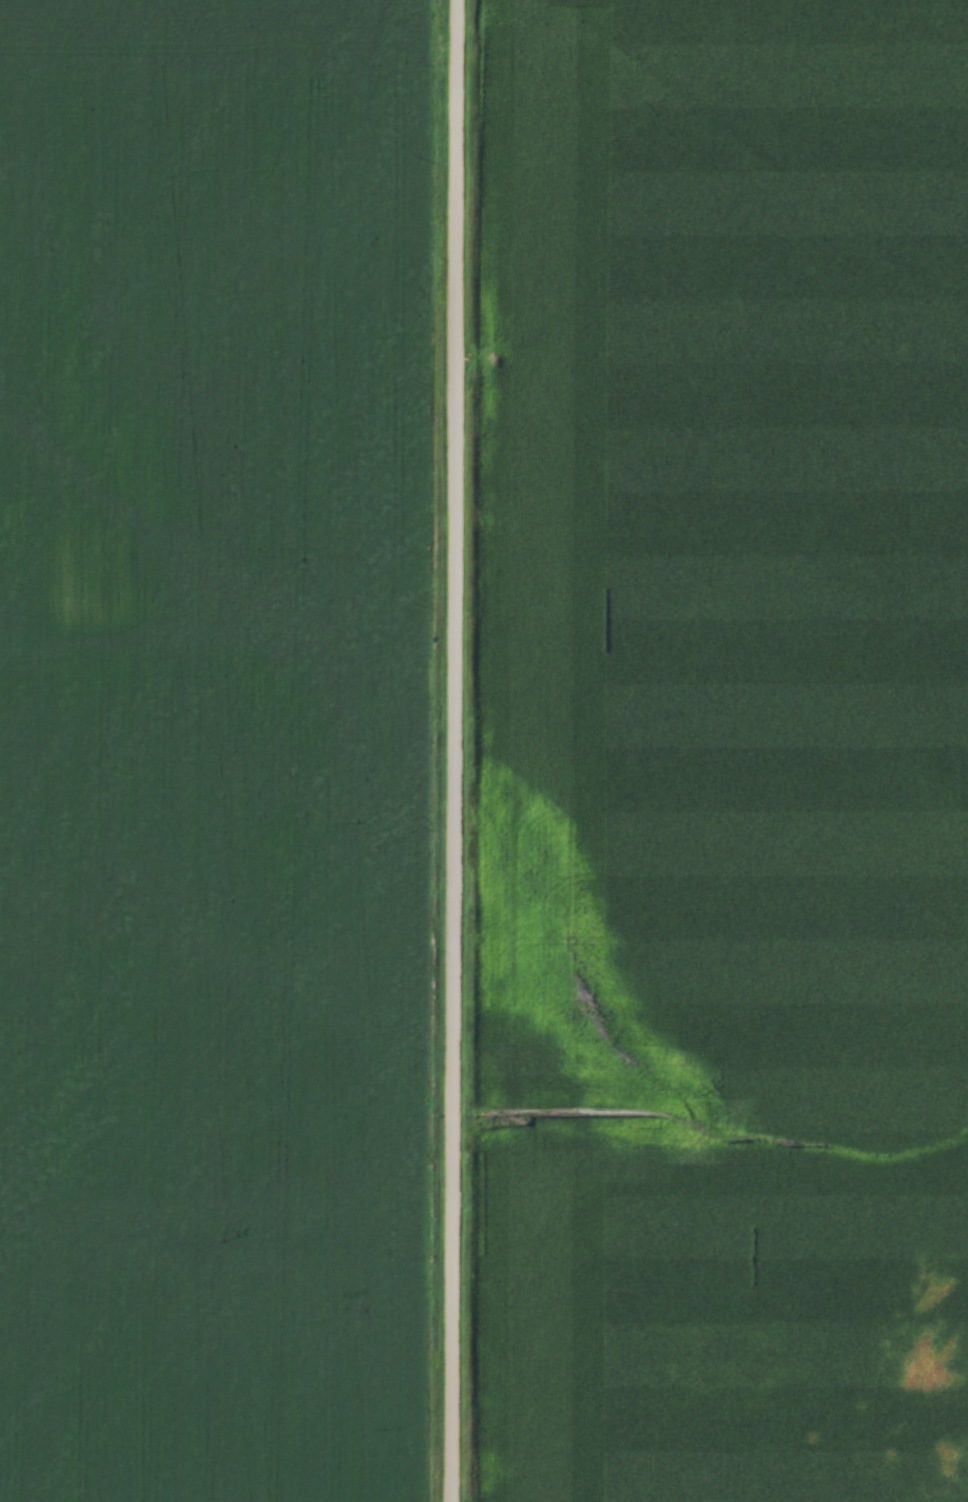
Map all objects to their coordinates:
road: (456, 751)

